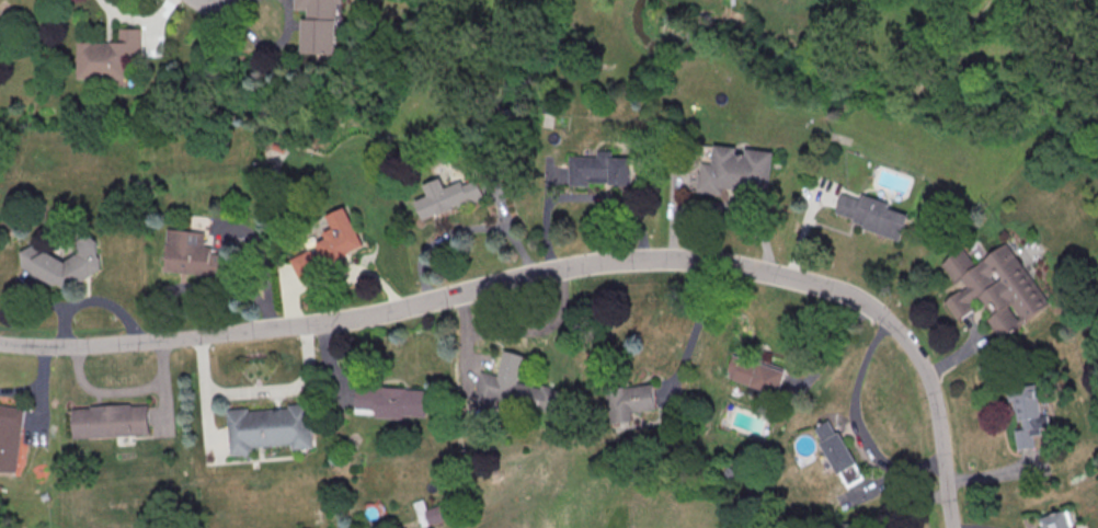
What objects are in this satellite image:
building: (328, 25)
building: (2, 31)
building: (111, 56)
building: (604, 169)
building: (735, 172)
building: (450, 196)
building: (870, 216)
building: (332, 244)
building: (194, 254)
building: (62, 264)
road: (559, 269)
building: (992, 286)
road: (827, 346)
building: (756, 374)
road: (256, 389)
building: (508, 391)
building: (391, 401)
building: (632, 401)
building: (1027, 414)
road: (855, 417)
building: (110, 422)
building: (268, 428)
building: (9, 436)
building: (834, 446)
building: (431, 513)
building: (1053, 520)
road: (968, 527)

